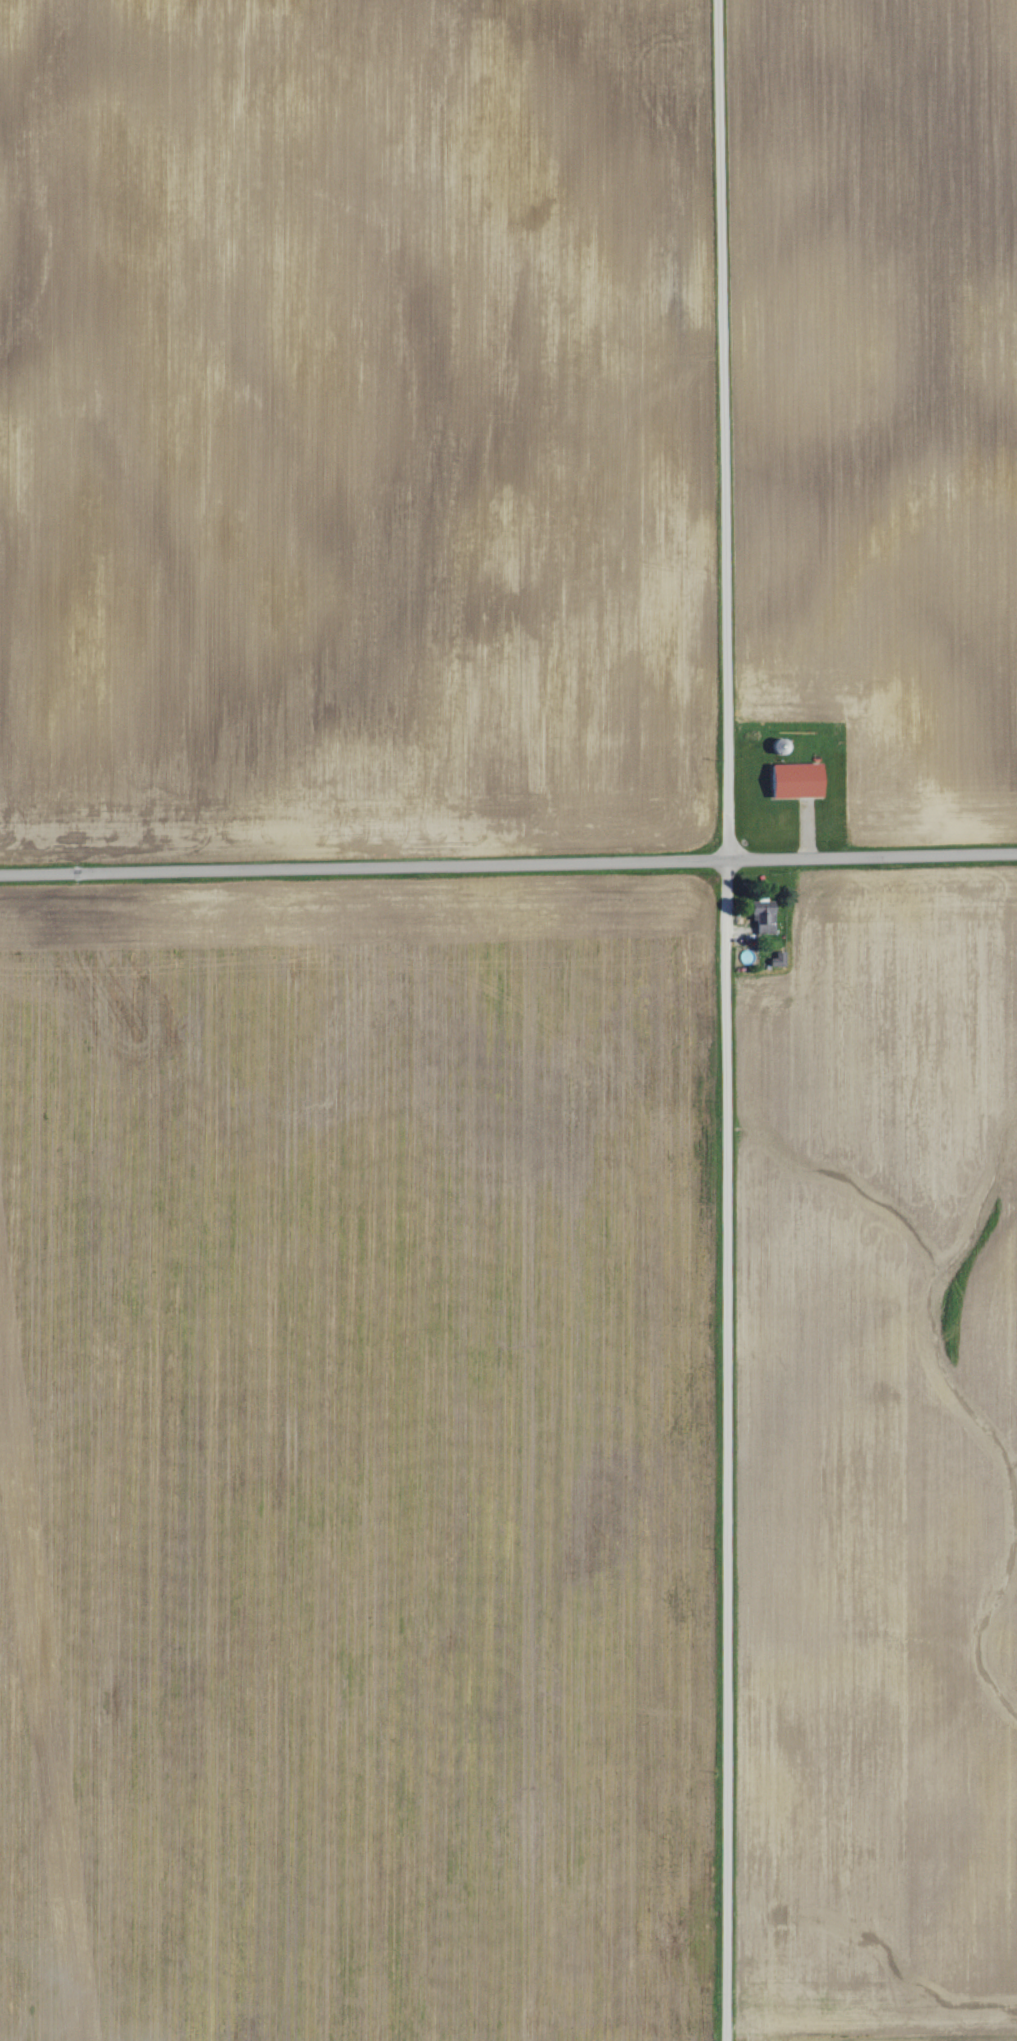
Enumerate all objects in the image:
building: (790, 780)
road: (508, 862)
building: (759, 918)
building: (775, 959)
road: (725, 1020)

